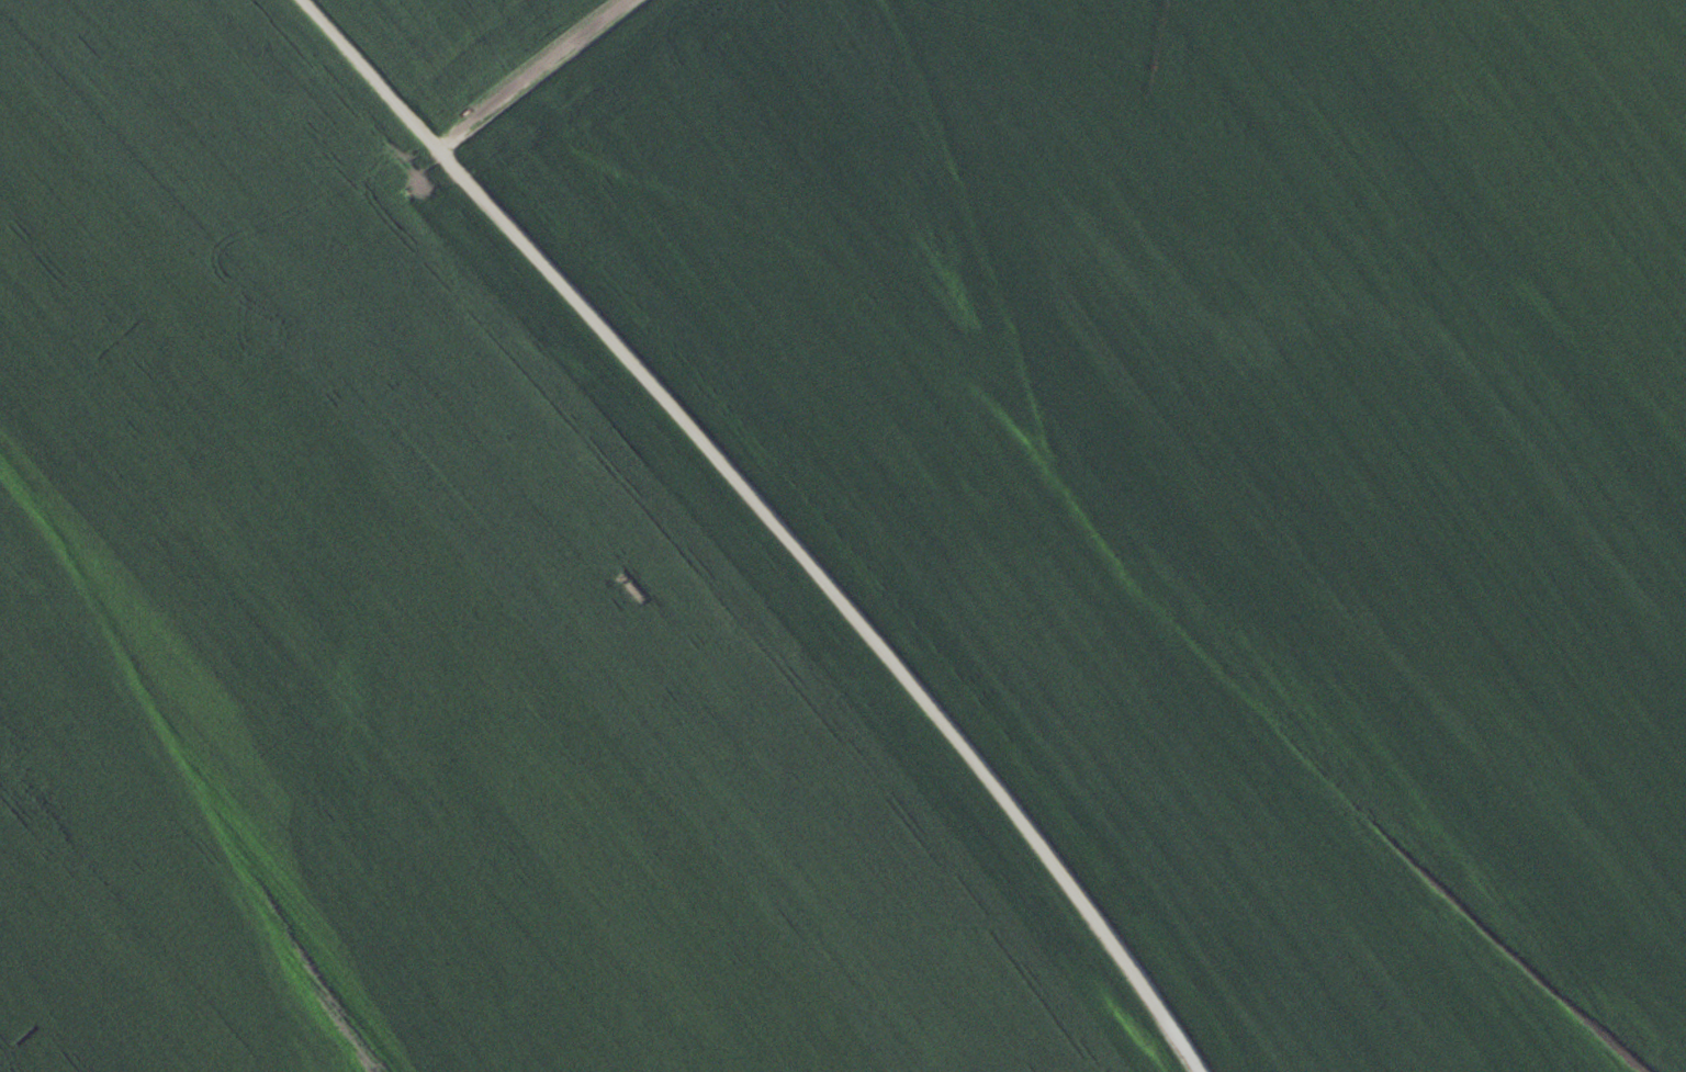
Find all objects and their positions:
road: (778, 520)

